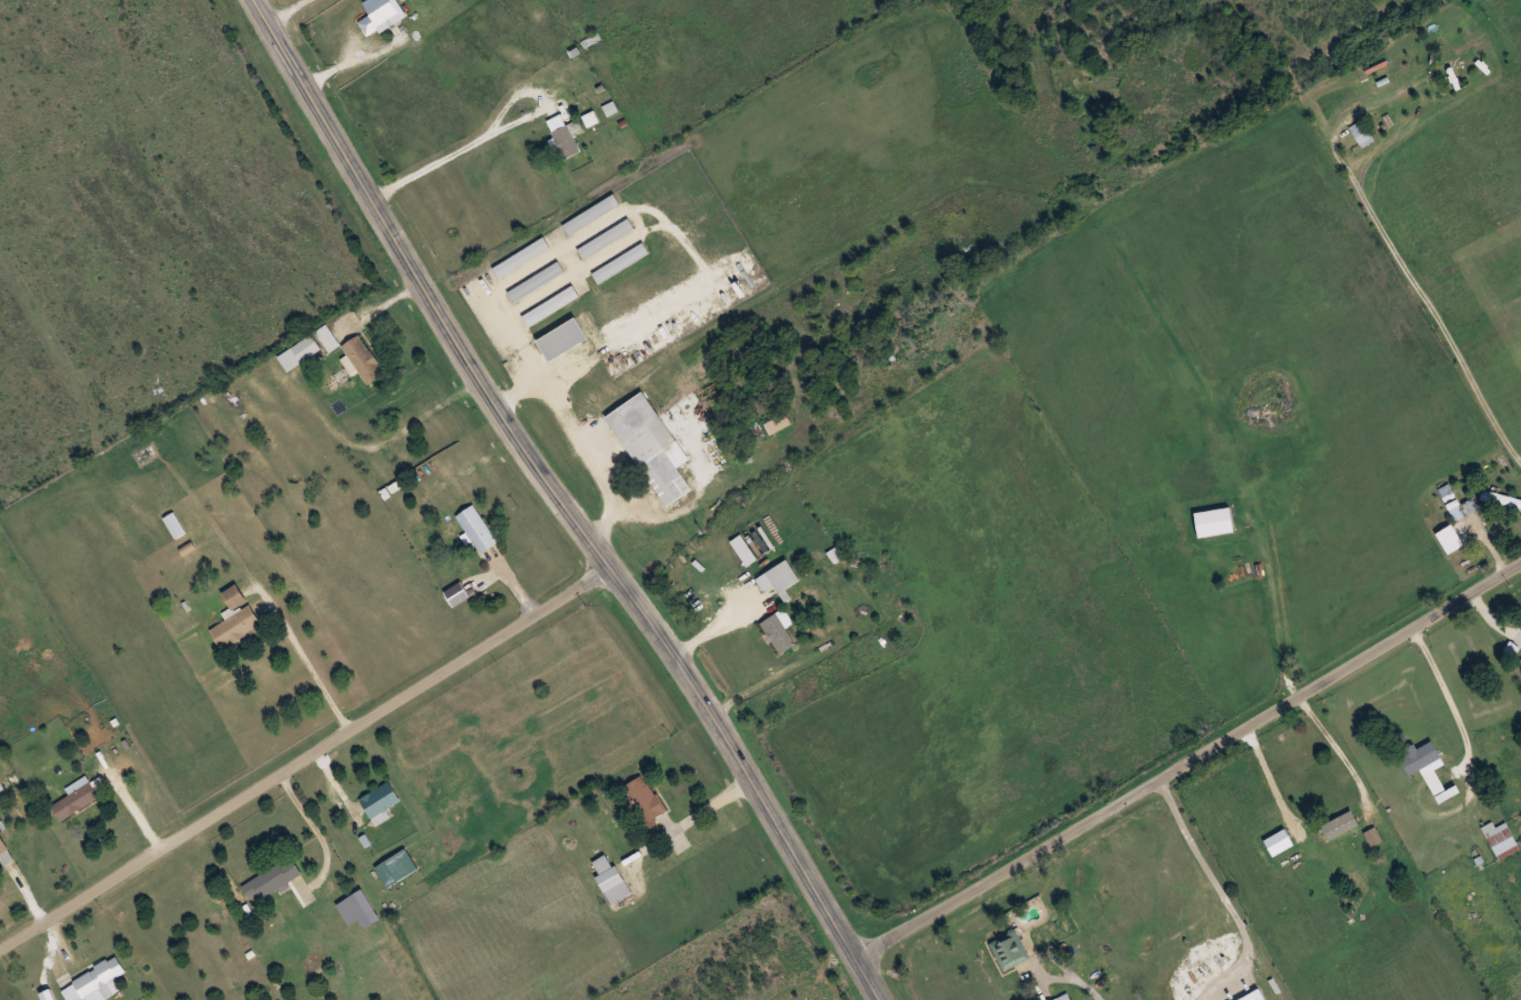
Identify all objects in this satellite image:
building: (385, 12)
road: (1378, 15)
road: (421, 57)
building: (1361, 133)
building: (562, 134)
building: (590, 214)
building: (605, 238)
building: (521, 257)
building: (620, 262)
building: (535, 281)
building: (550, 305)
building: (327, 337)
building: (561, 338)
building: (299, 352)
building: (362, 358)
building: (777, 422)
building: (651, 446)
building: (146, 454)
building: (1501, 499)
road: (564, 501)
building: (1213, 521)
building: (175, 525)
building: (476, 528)
building: (778, 577)
building: (456, 593)
building: (235, 618)
building: (779, 629)
building: (1520, 659)
road: (304, 756)
road: (1188, 762)
building: (1431, 769)
building: (1, 788)
building: (77, 797)
building: (643, 798)
building: (379, 801)
building: (1344, 823)
building: (1500, 839)
building: (3, 849)
building: (395, 867)
building: (276, 877)
building: (610, 879)
building: (1009, 950)
building: (94, 981)
building: (1254, 996)
building: (1063, 997)

